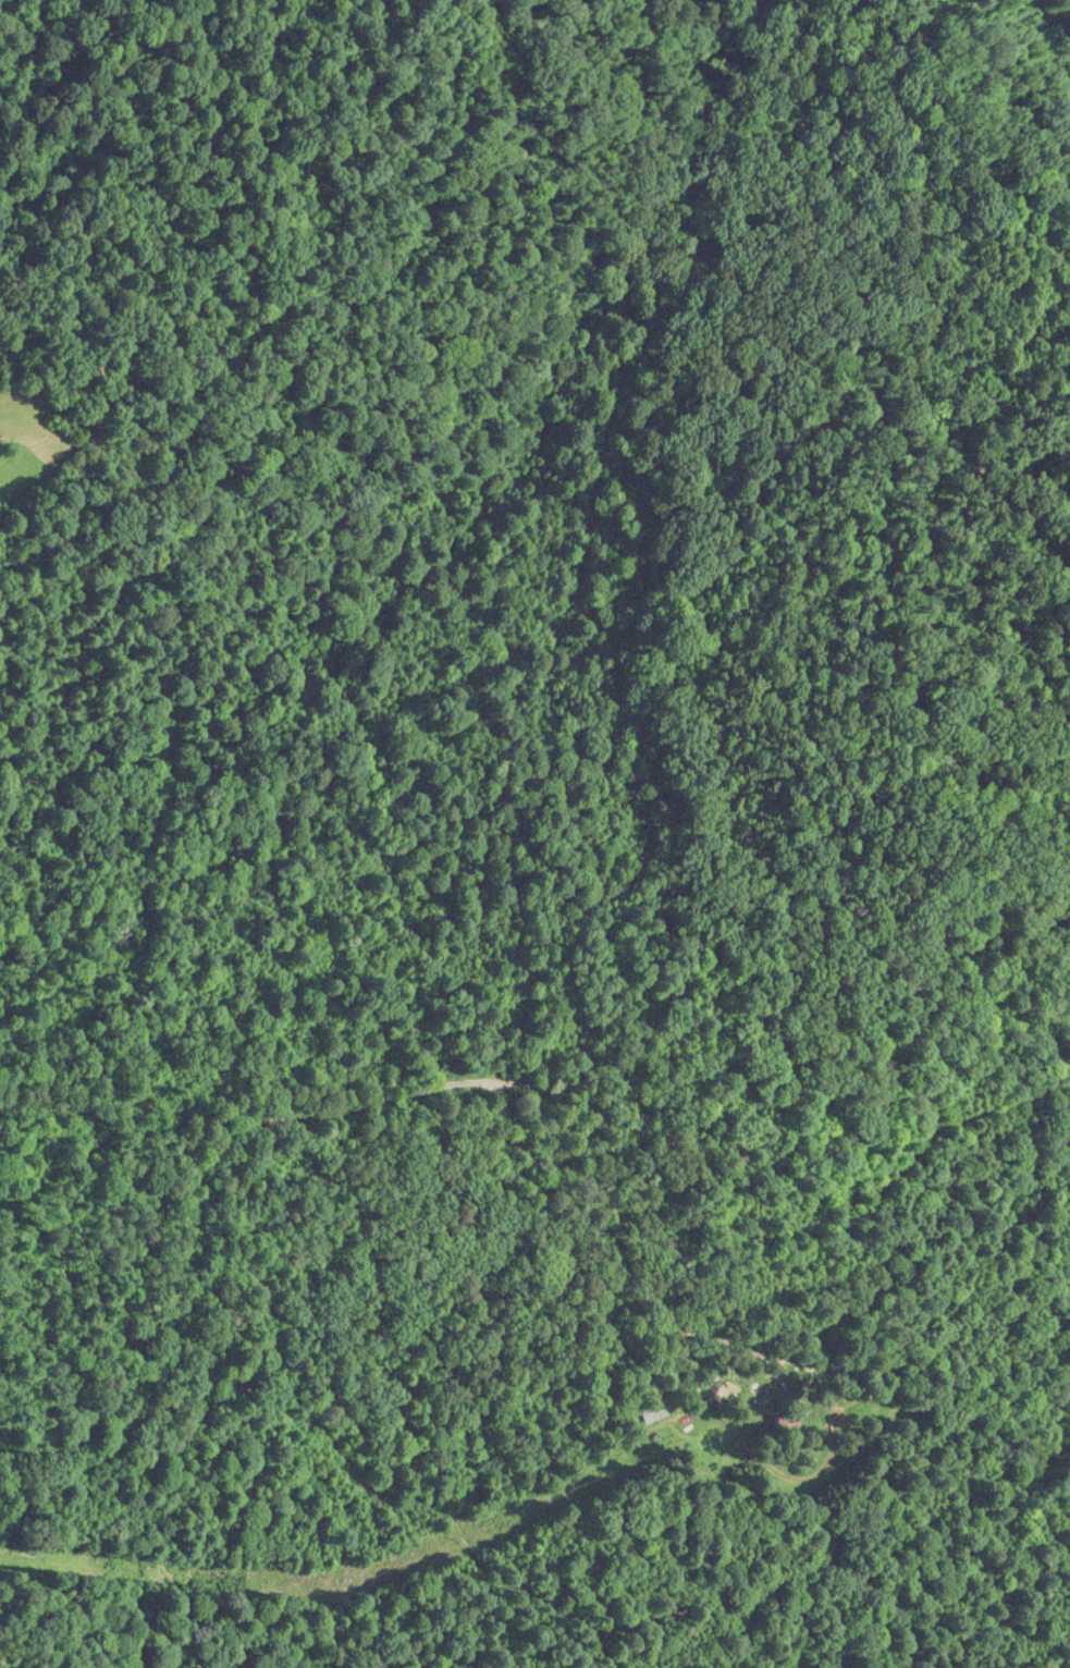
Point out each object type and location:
road: (751, 1074)

